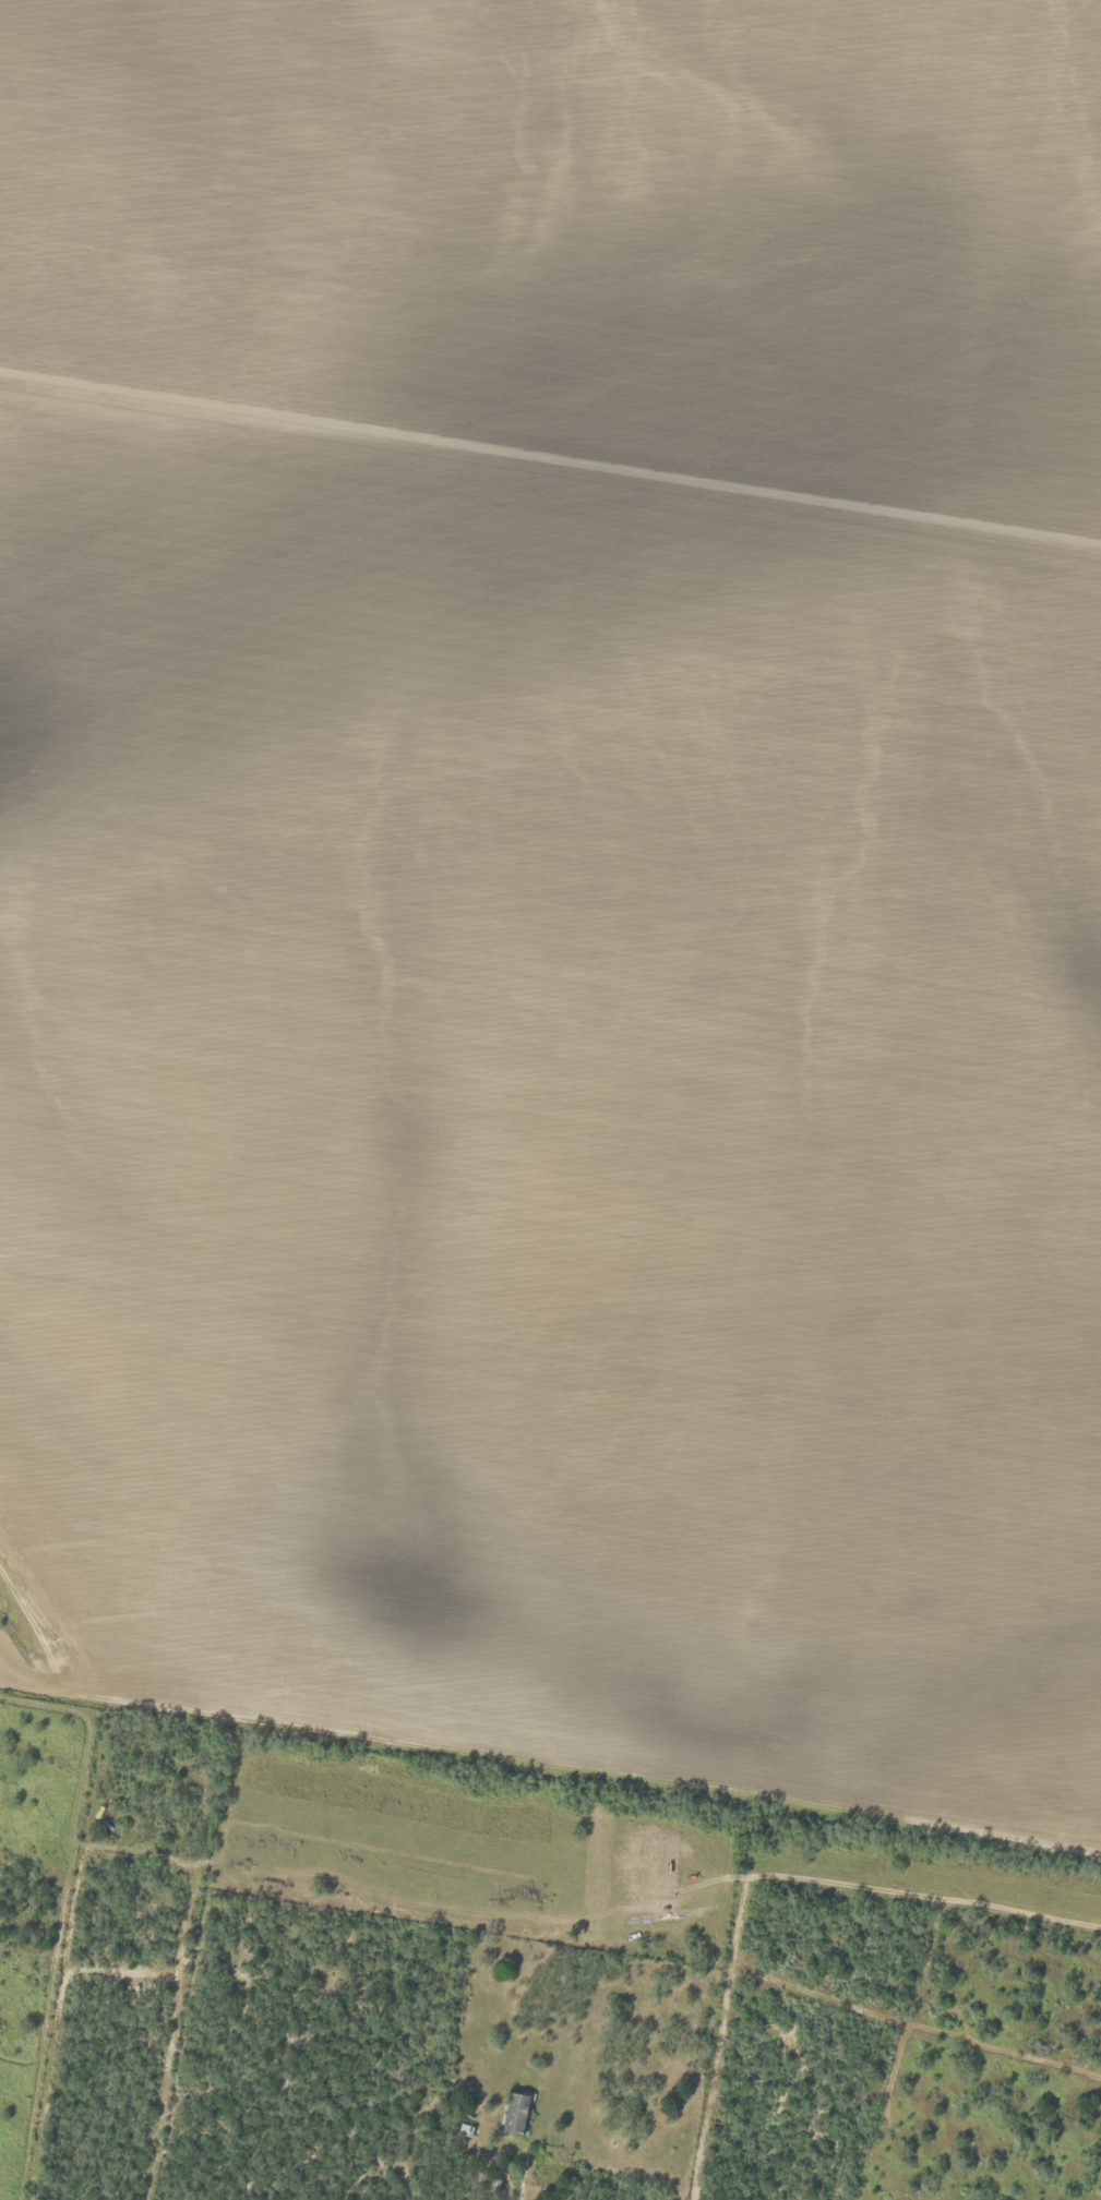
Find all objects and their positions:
building: (515, 2115)

